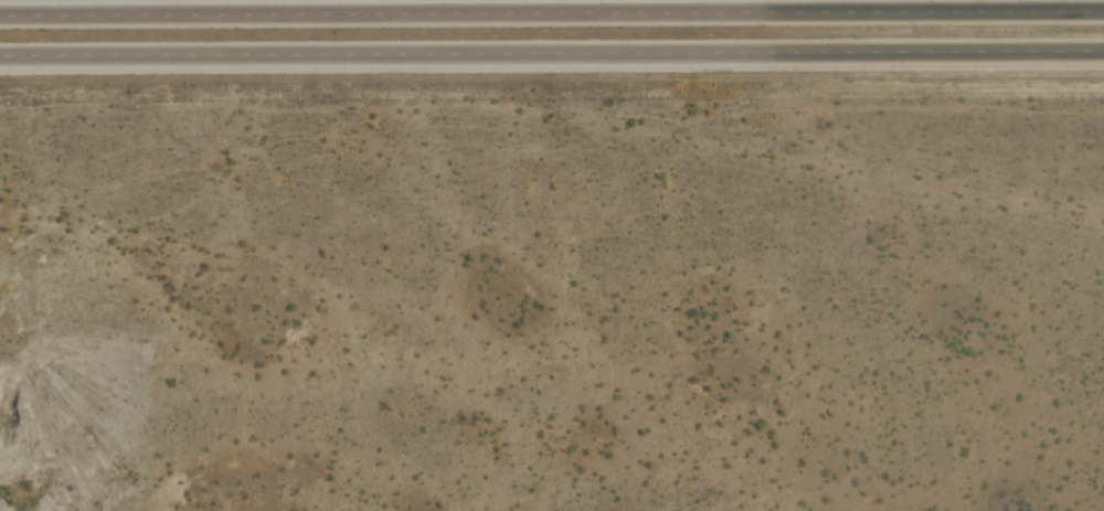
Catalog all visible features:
road: (552, 12)
road: (552, 53)

